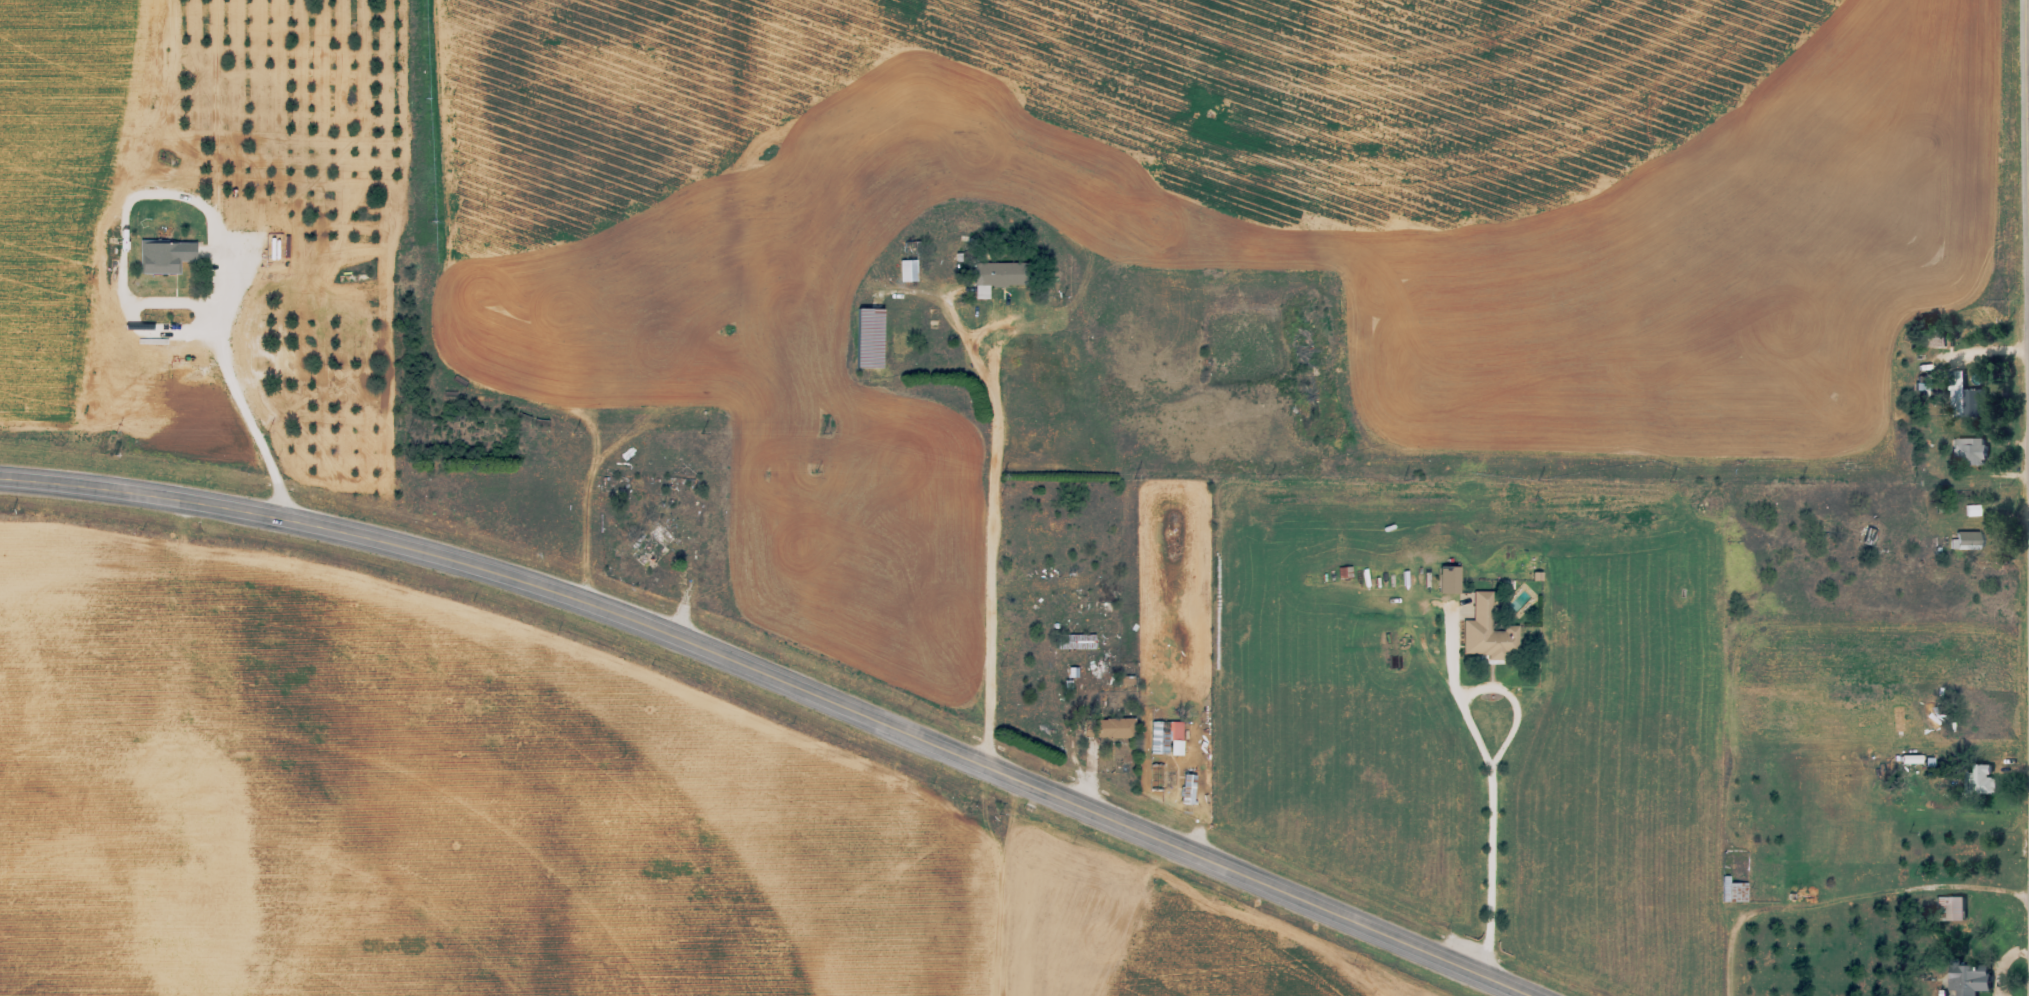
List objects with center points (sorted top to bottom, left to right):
road: (2027, 154)
building: (166, 255)
building: (909, 270)
building: (1000, 274)
road: (2028, 308)
building: (870, 338)
building: (1935, 339)
road: (2028, 360)
building: (1924, 383)
building: (1972, 398)
building: (1969, 450)
building: (1871, 536)
building: (1968, 539)
road: (999, 566)
building: (1488, 631)
building: (1076, 641)
road: (788, 681)
building: (1117, 728)
building: (1176, 738)
road: (1471, 765)
building: (1982, 777)
building: (1188, 789)
building: (1733, 889)
building: (1955, 907)
building: (1973, 979)

